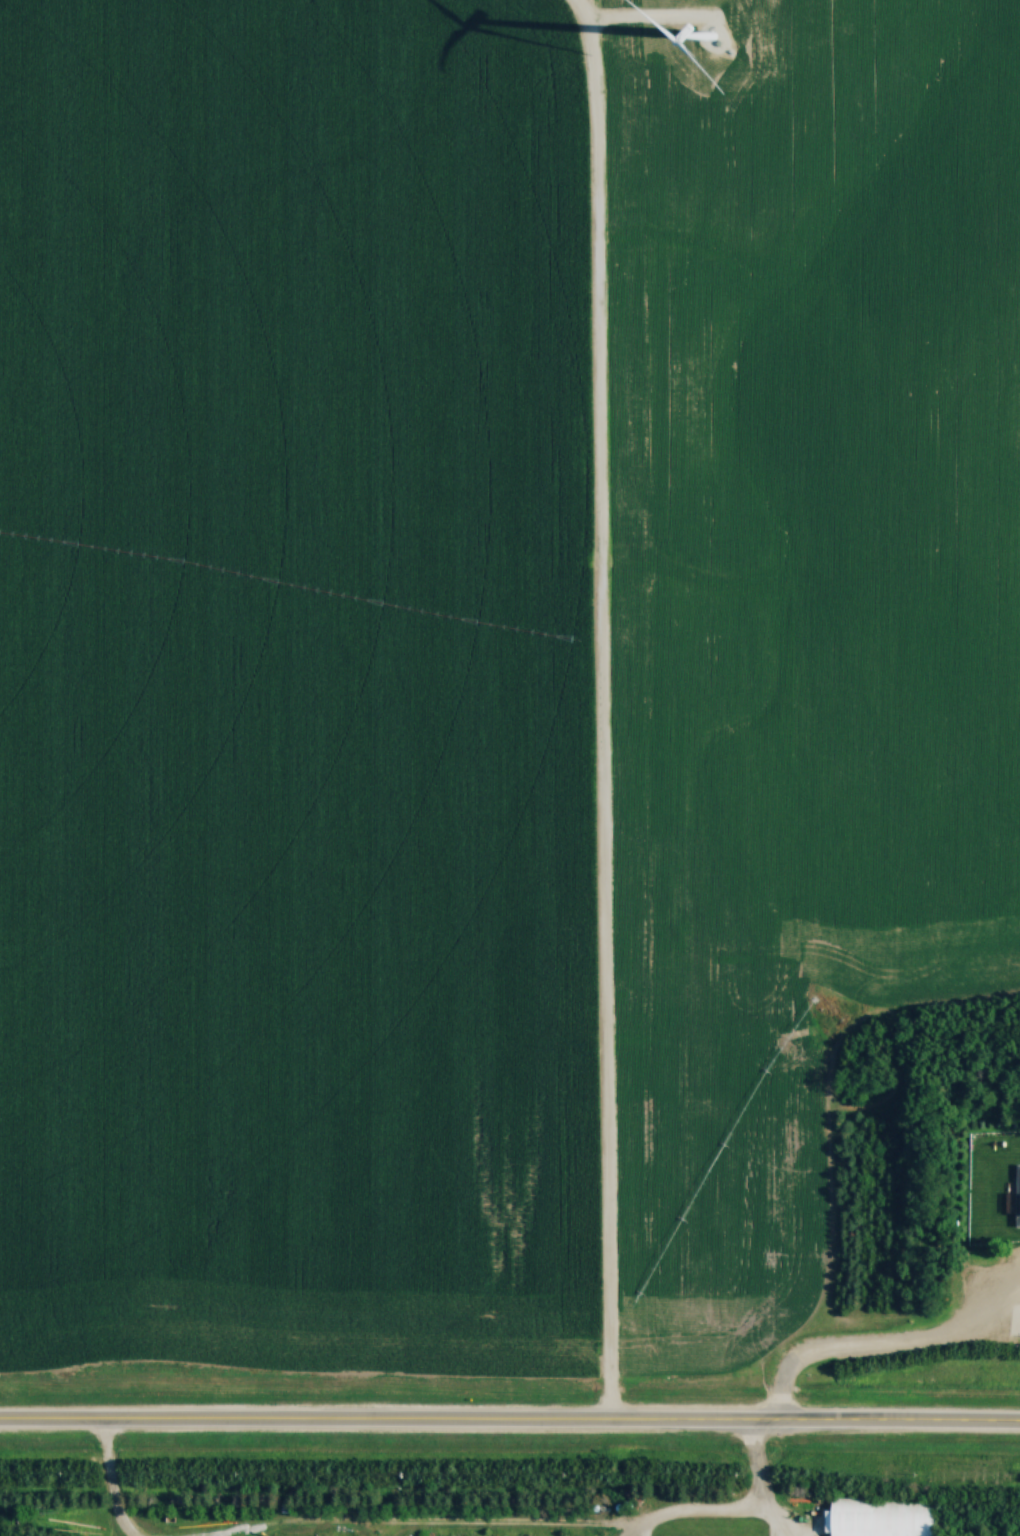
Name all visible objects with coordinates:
wind turbine: (711, 35)
road: (600, 713)
building: (1019, 1201)
road: (877, 1351)
road: (510, 1427)
road: (756, 1481)
road: (106, 1485)
building: (884, 1519)
road: (482, 1527)
road: (774, 1534)
road: (775, 1534)

